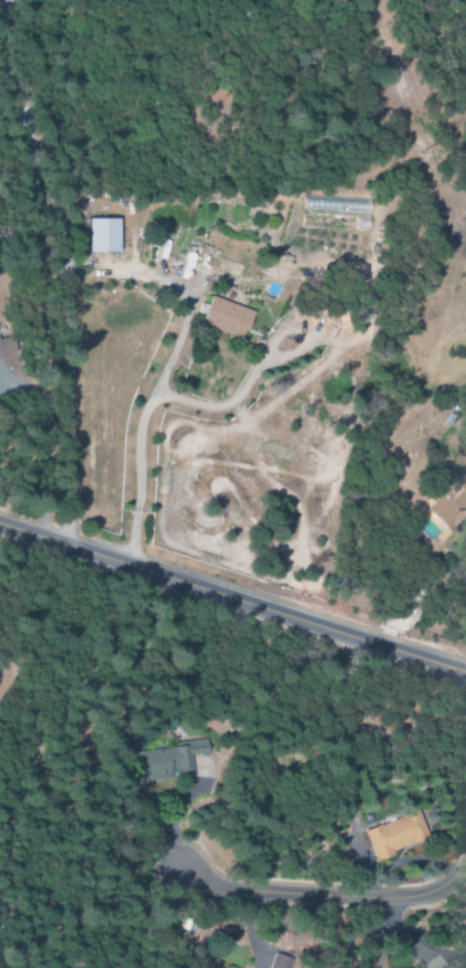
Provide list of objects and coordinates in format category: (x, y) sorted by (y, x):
road: (1, 4)
building: (345, 205)
building: (335, 221)
building: (104, 234)
building: (333, 256)
road: (64, 285)
building: (228, 317)
building: (7, 346)
building: (451, 505)
road: (233, 597)
building: (172, 764)
building: (396, 834)
road: (324, 897)
building: (456, 962)
building: (281, 963)
building: (229, 967)

